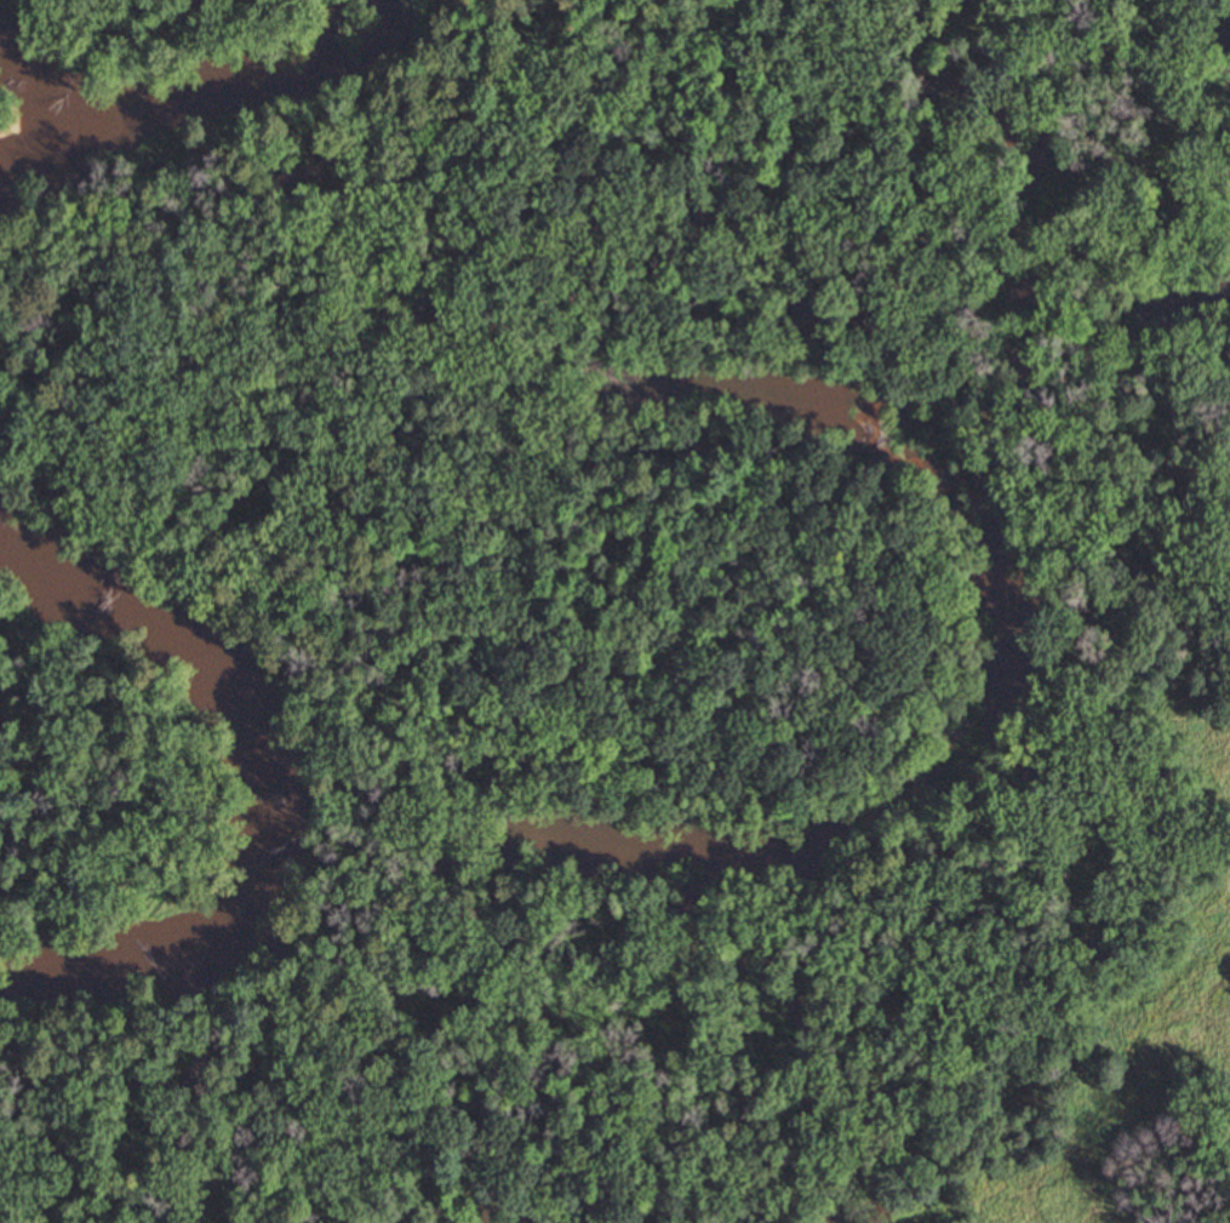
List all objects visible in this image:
river: (47, 56)
river: (11, 1159)

